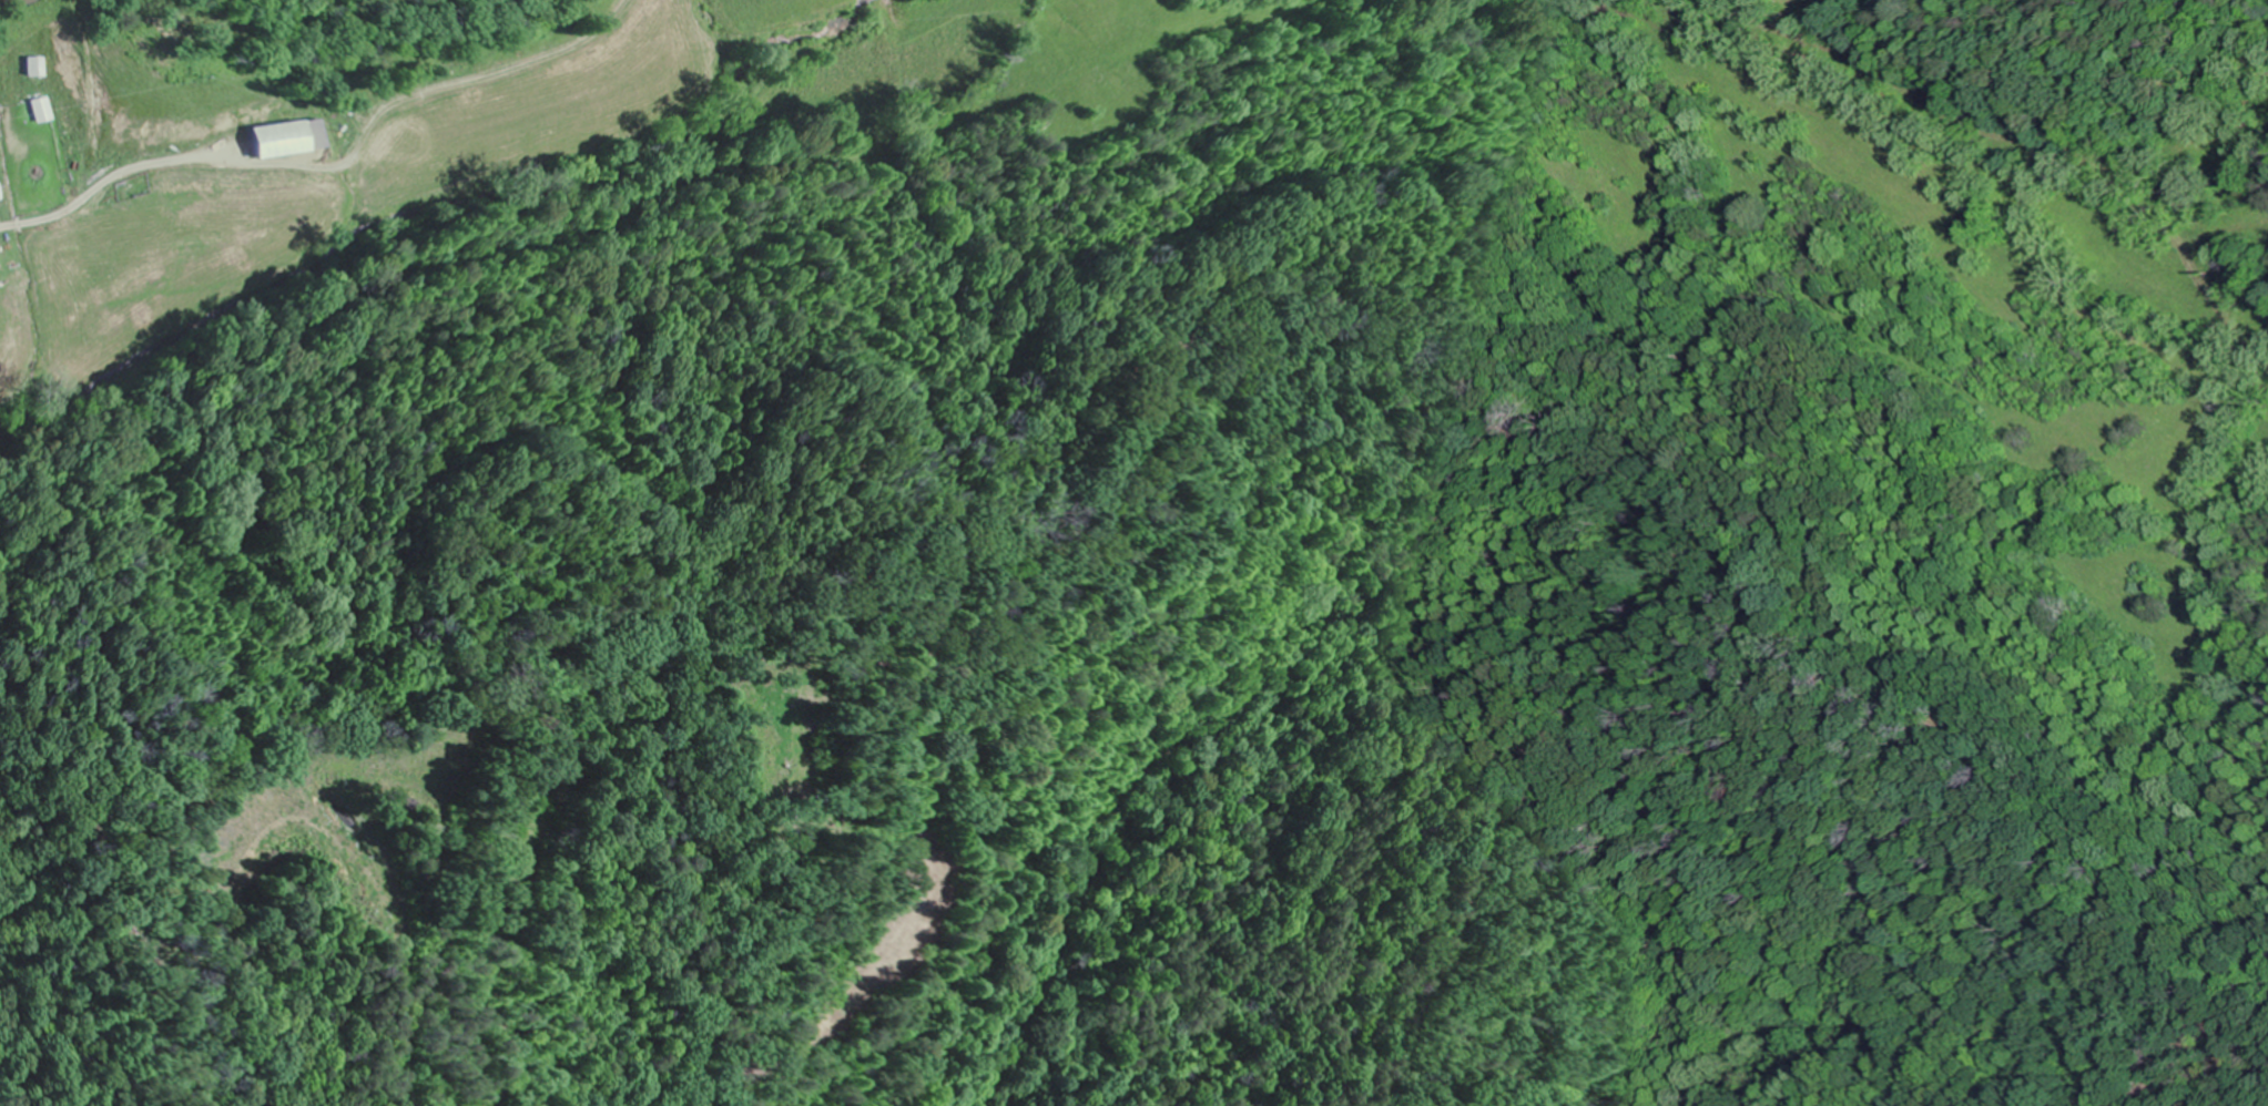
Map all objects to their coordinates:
building: (1006, 0)
building: (43, 112)
building: (288, 142)
road: (101, 184)

